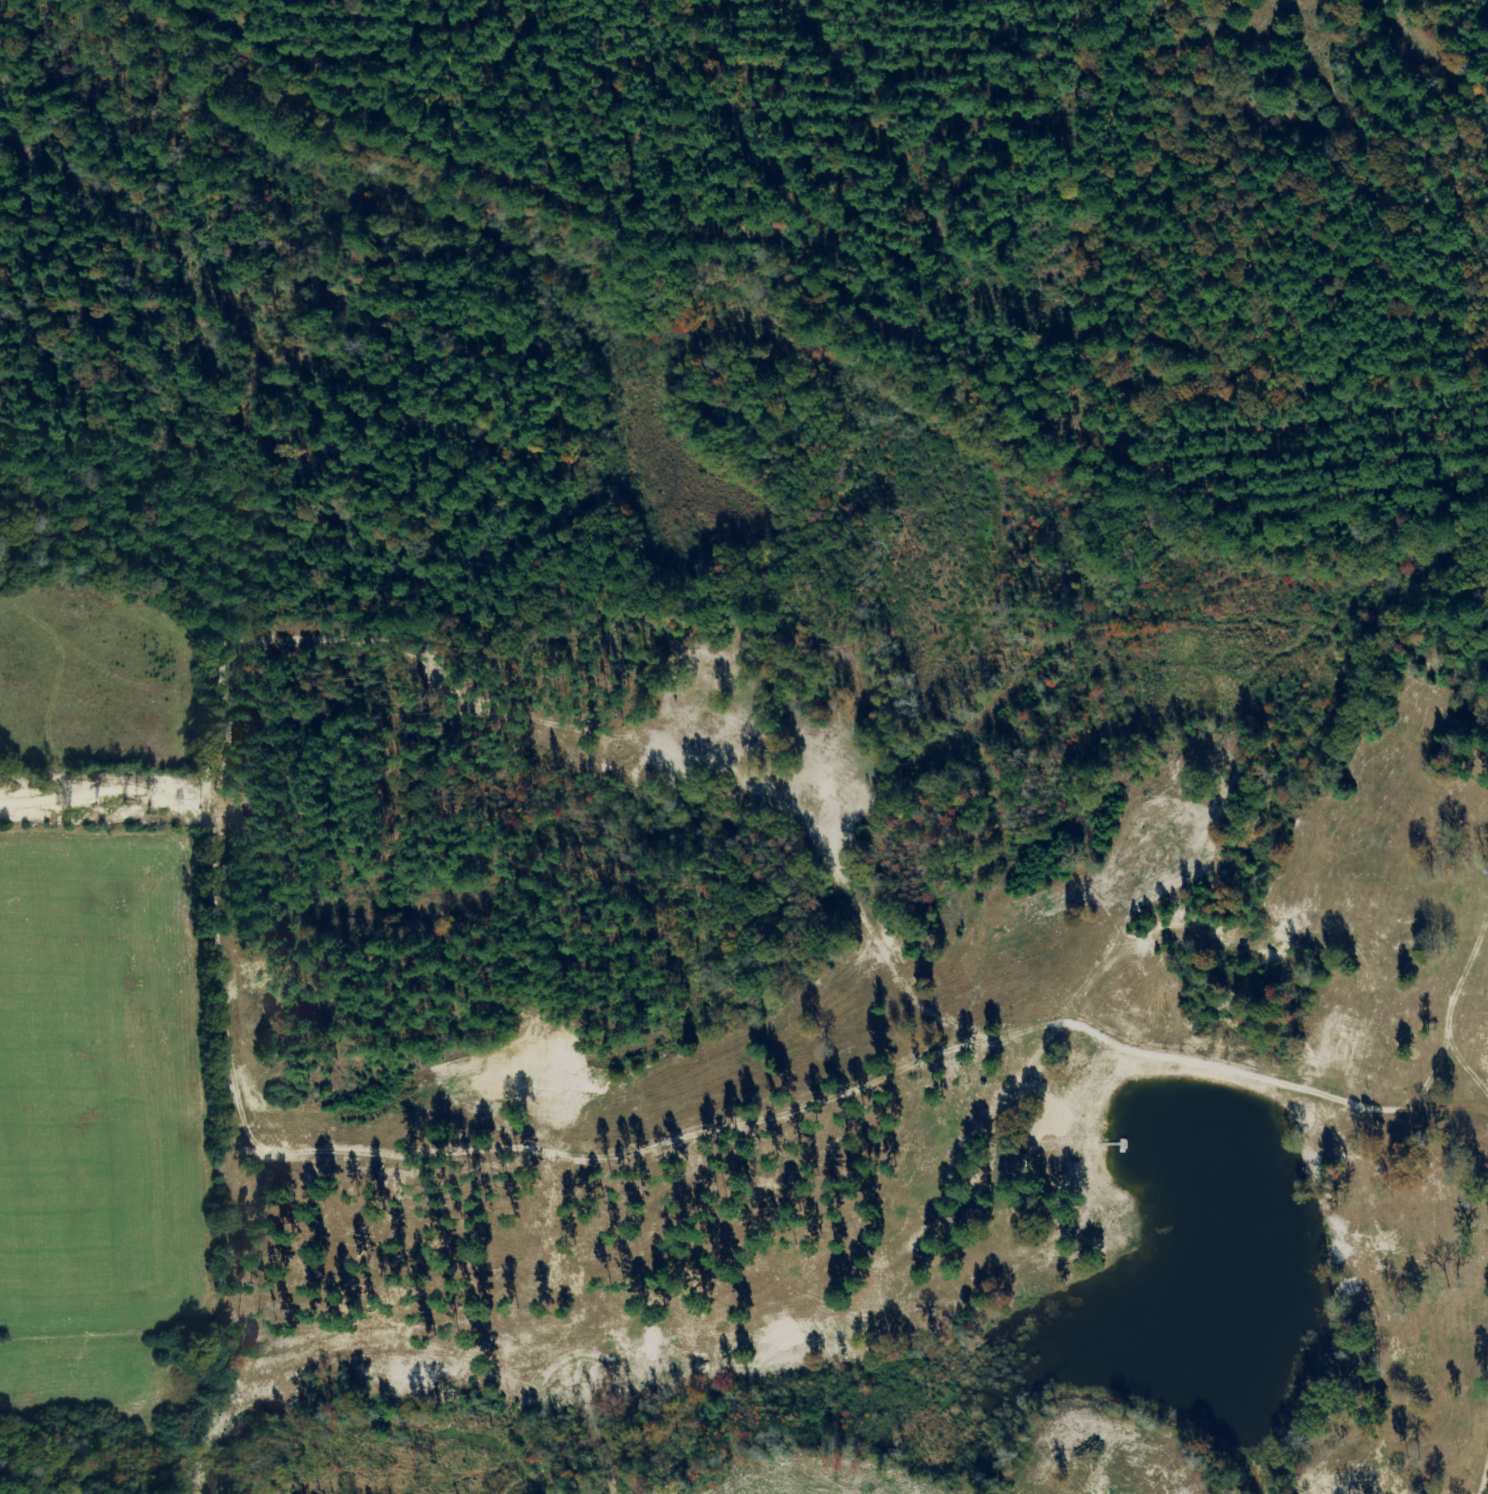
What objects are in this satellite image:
road: (1484, 1480)

